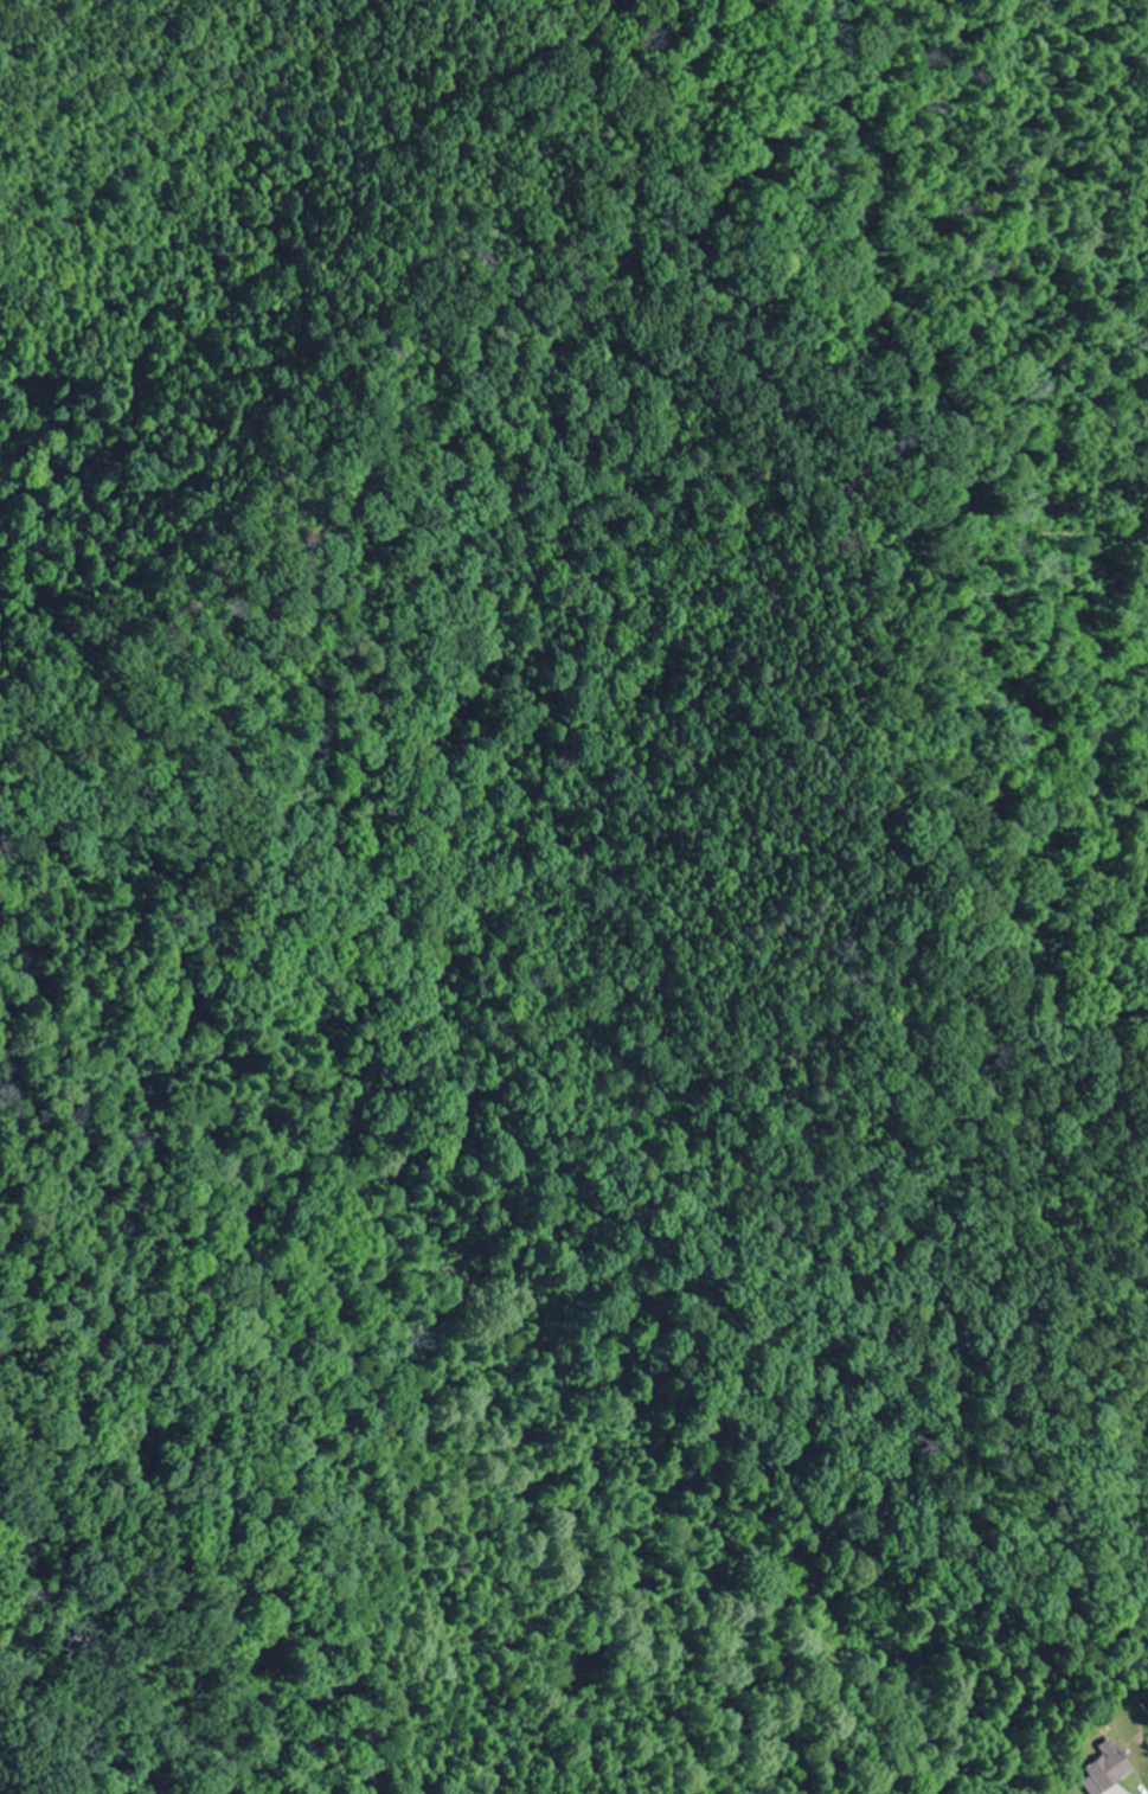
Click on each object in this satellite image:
building: (1103, 1768)

